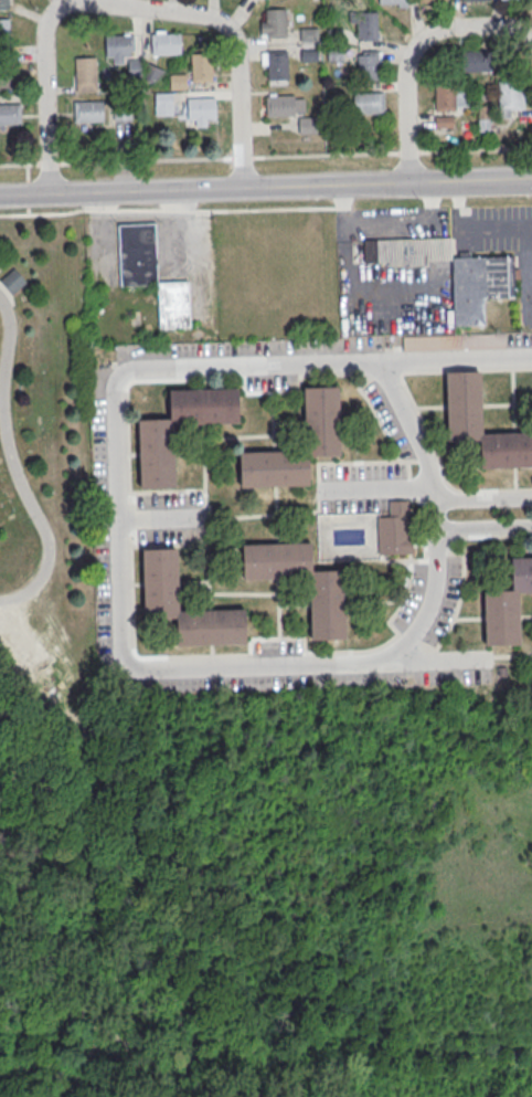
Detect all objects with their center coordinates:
building: (432, 0)
building: (393, 1)
building: (4, 4)
road: (130, 7)
building: (274, 24)
building: (368, 28)
building: (4, 34)
building: (308, 34)
building: (167, 45)
building: (120, 46)
road: (412, 52)
building: (334, 53)
building: (308, 54)
building: (476, 60)
building: (274, 64)
building: (200, 66)
building: (369, 66)
building: (151, 73)
building: (6, 76)
building: (86, 76)
building: (178, 80)
building: (511, 95)
building: (451, 97)
building: (162, 103)
building: (284, 104)
building: (369, 104)
building: (202, 109)
building: (89, 113)
building: (10, 115)
building: (444, 120)
building: (307, 124)
road: (475, 149)
road: (407, 151)
road: (326, 156)
road: (243, 159)
road: (146, 161)
road: (50, 164)
road: (20, 165)
road: (480, 182)
road: (213, 190)
road: (387, 222)
building: (150, 273)
building: (11, 279)
building: (482, 281)
road: (449, 360)
road: (174, 366)
building: (321, 419)
building: (481, 424)
building: (156, 457)
road: (13, 466)
park: (47, 482)
road: (374, 485)
road: (483, 498)
road: (157, 518)
road: (485, 525)
building: (394, 528)
building: (159, 577)
building: (506, 605)
building: (326, 608)
road: (436, 661)
road: (348, 666)
park: (270, 897)

